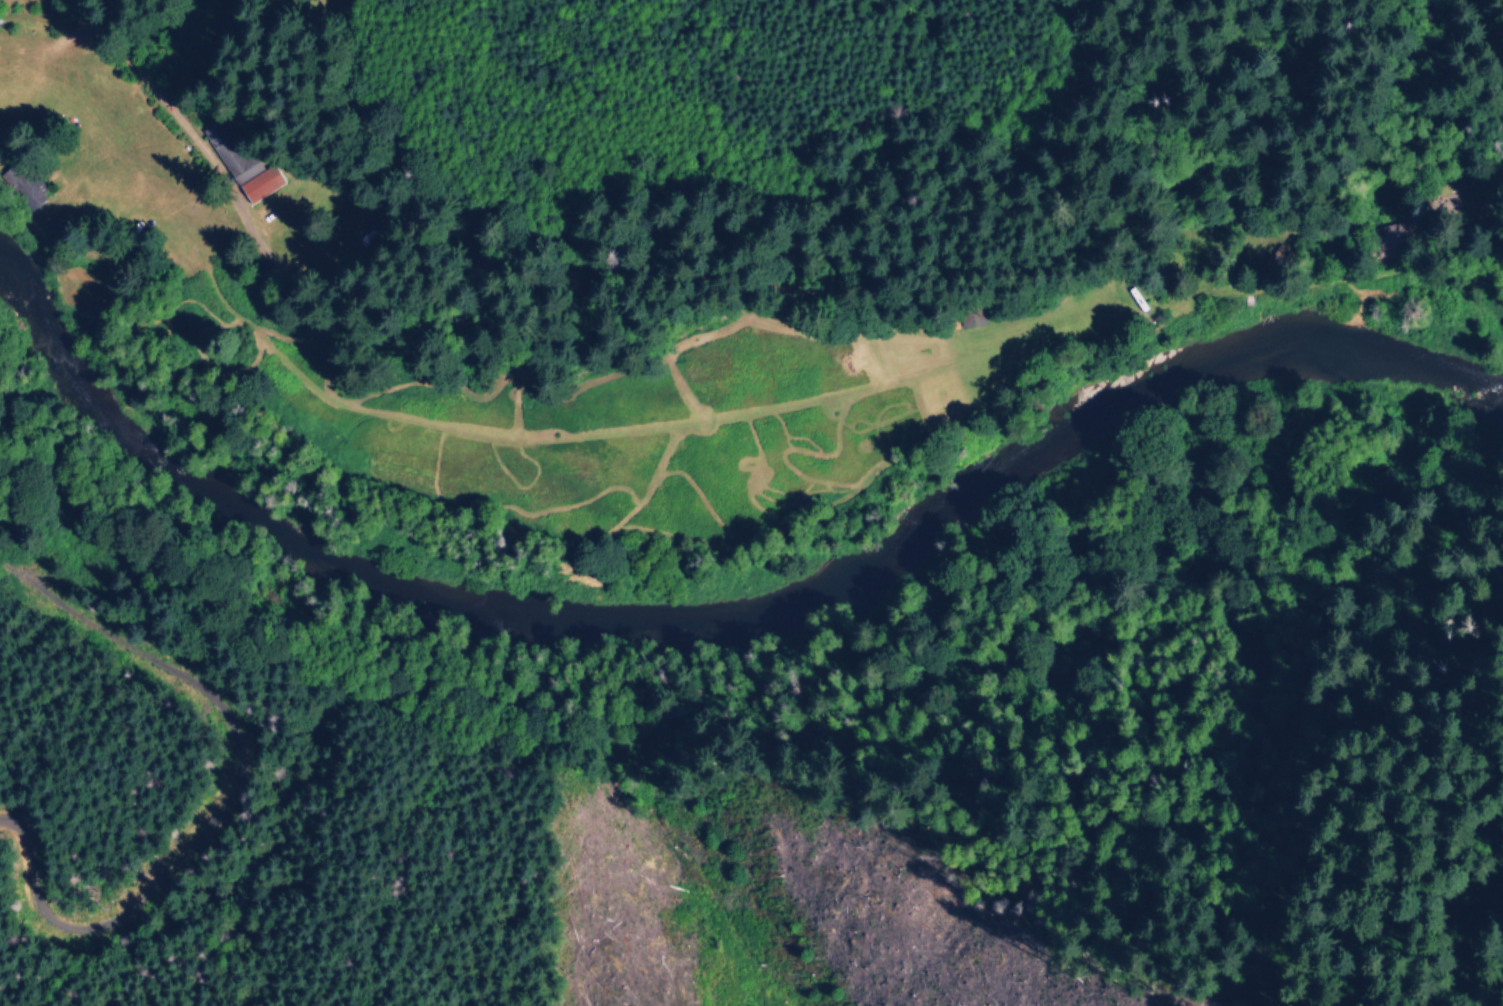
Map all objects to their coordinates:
building: (224, 152)
building: (259, 184)
building: (22, 187)
building: (1392, 231)
road: (358, 310)
river: (723, 617)

